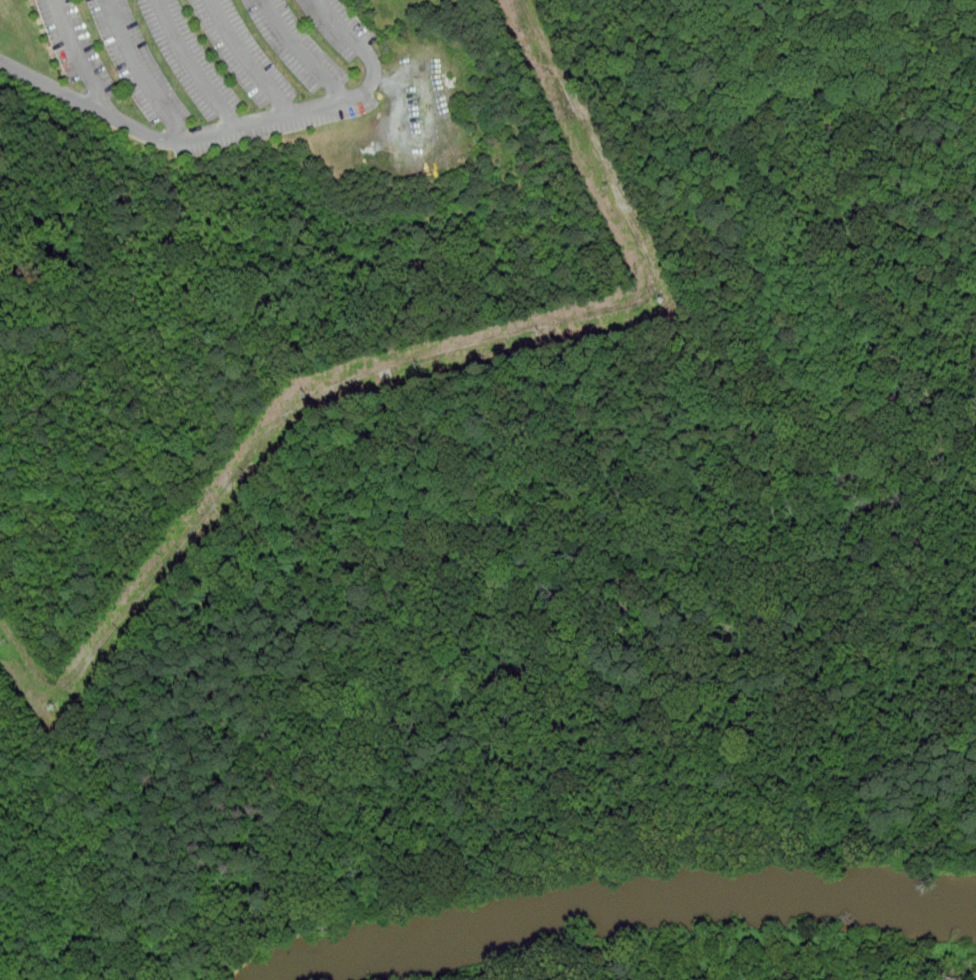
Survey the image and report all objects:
road: (343, 29)
road: (301, 53)
road: (78, 55)
road: (246, 58)
road: (193, 65)
road: (140, 71)
road: (424, 88)
road: (197, 137)
river: (625, 907)

